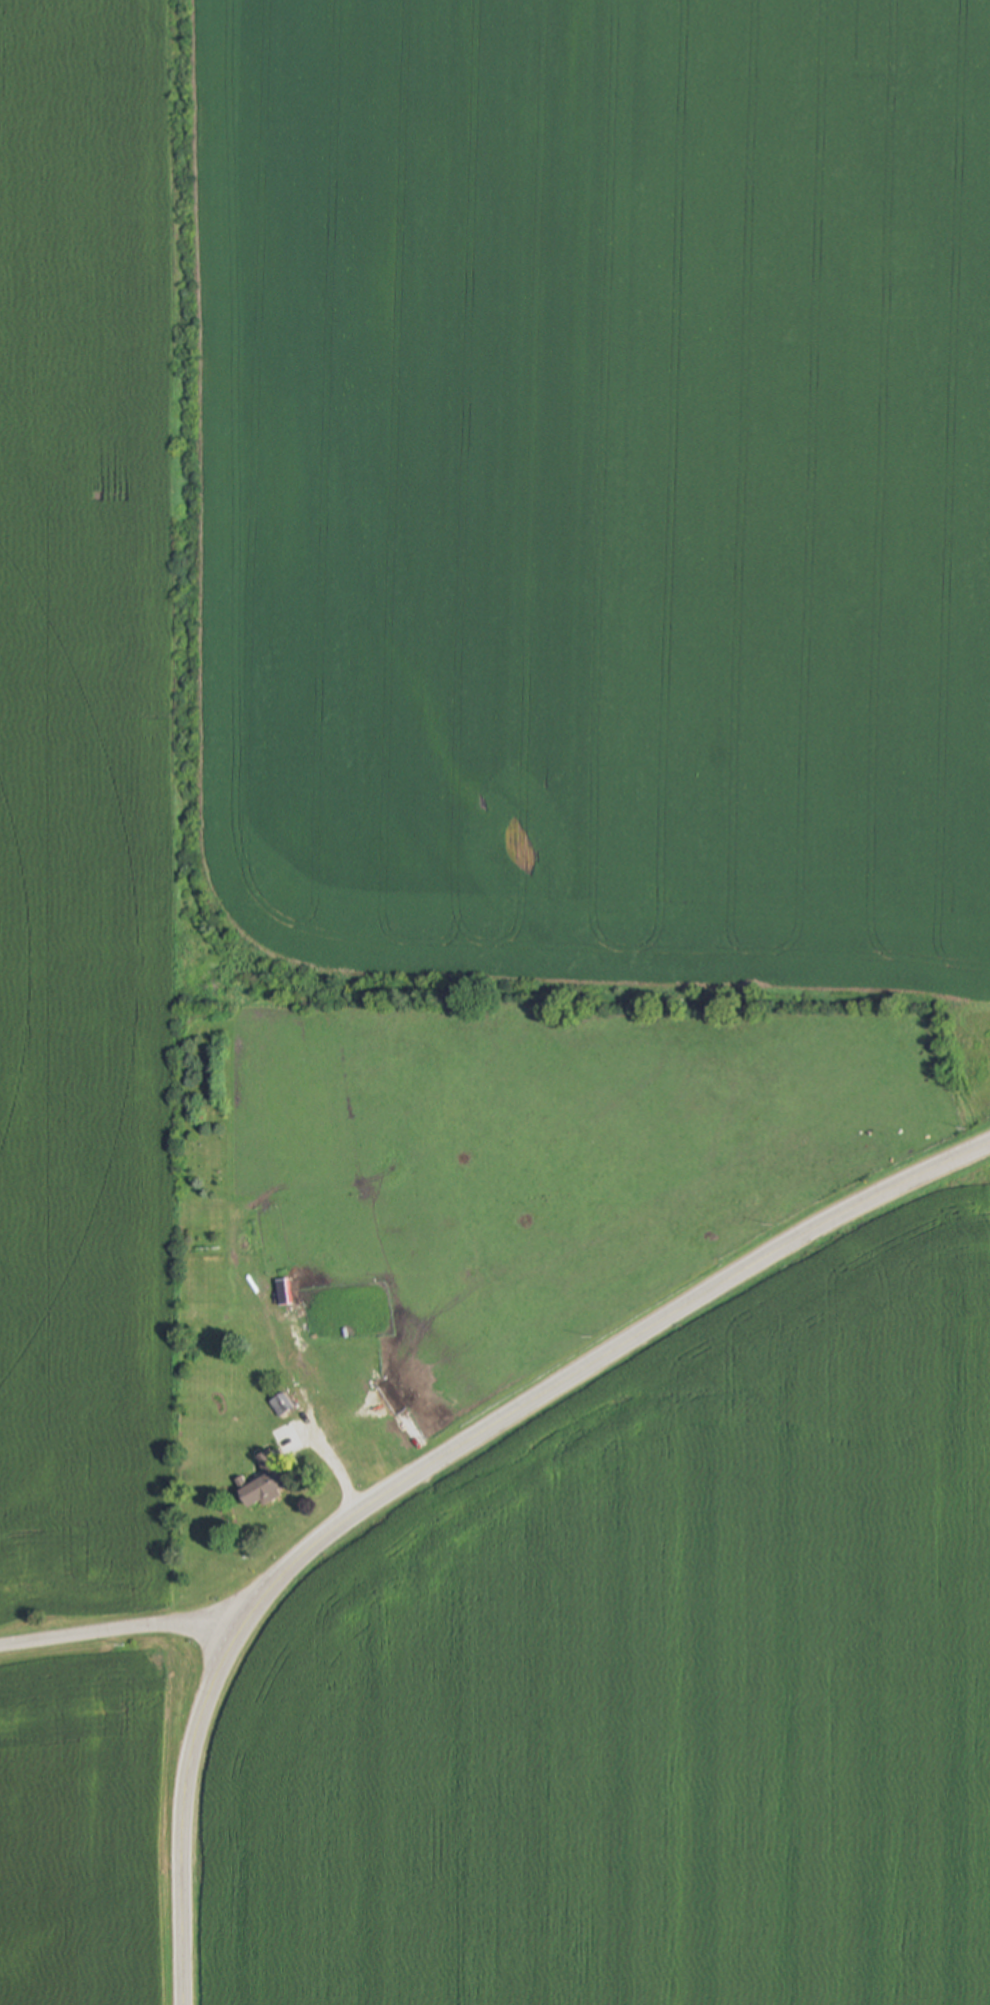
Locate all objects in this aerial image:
building: (282, 1294)
building: (281, 1405)
road: (331, 1459)
road: (435, 1466)
building: (264, 1484)
road: (126, 1640)

